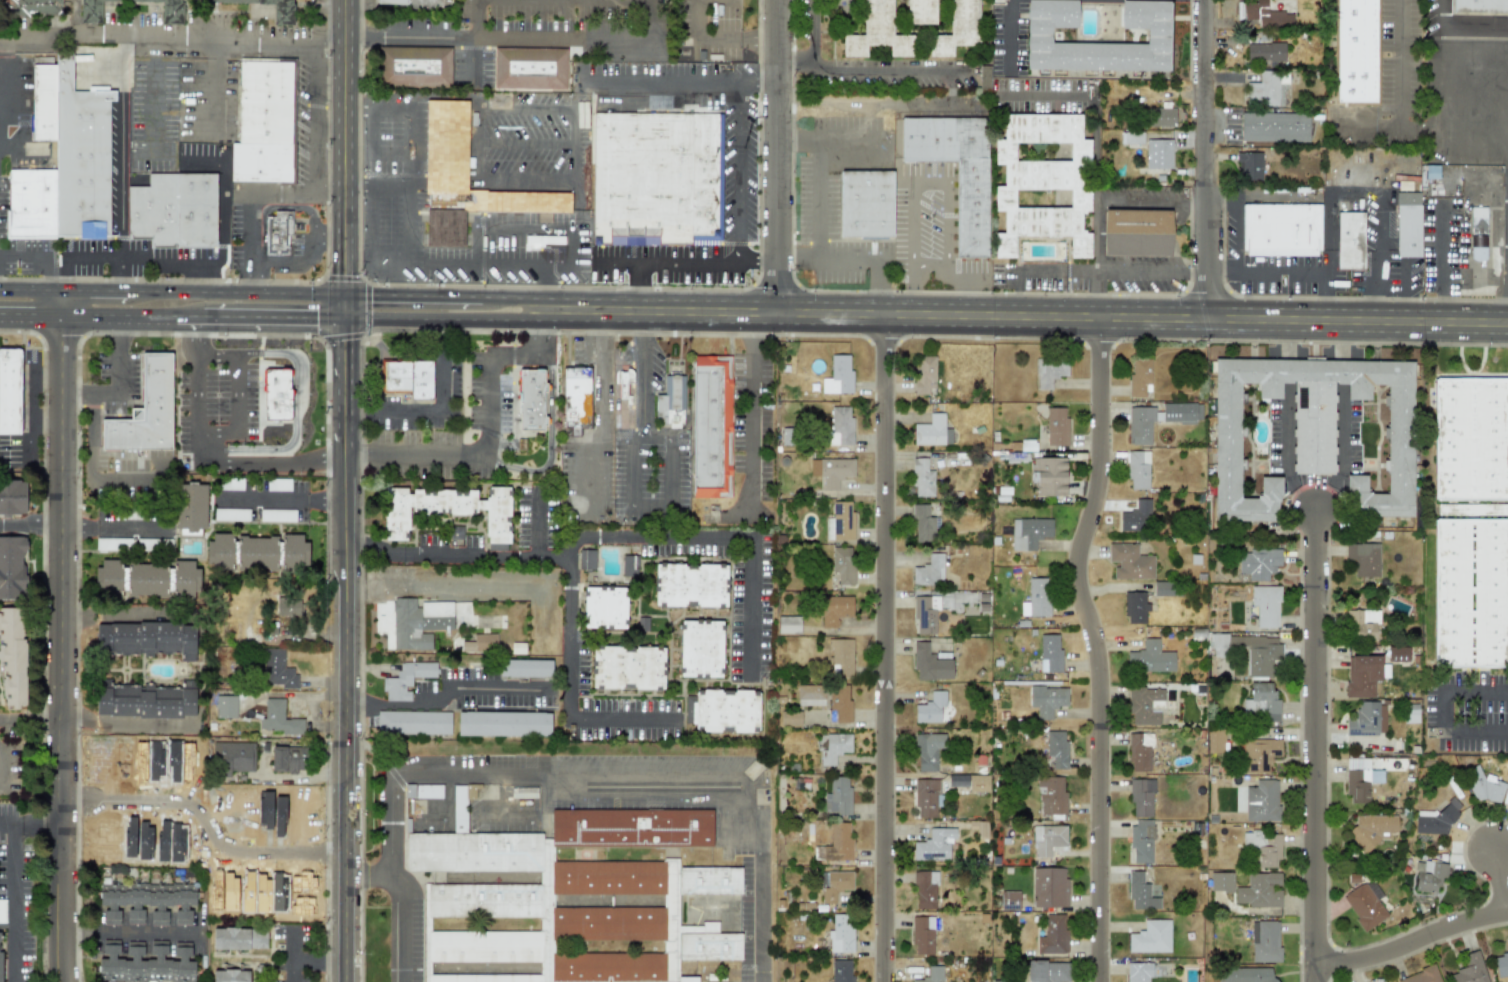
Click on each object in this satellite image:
building: (392, 1)
building: (1480, 6)
building: (35, 7)
building: (920, 11)
building: (171, 12)
building: (282, 13)
building: (1264, 14)
road: (477, 19)
building: (957, 28)
building: (877, 32)
road: (814, 33)
road: (1011, 33)
building: (1037, 35)
road: (463, 37)
road: (717, 39)
road: (636, 40)
road: (236, 43)
building: (1356, 51)
building: (1265, 52)
road: (1445, 58)
road: (1400, 61)
building: (414, 65)
road: (873, 67)
building: (529, 68)
road: (758, 75)
road: (662, 76)
building: (983, 77)
road: (218, 89)
building: (1266, 89)
road: (1048, 96)
road: (877, 101)
building: (1161, 116)
building: (265, 121)
road: (158, 125)
building: (1274, 127)
road: (853, 137)
building: (1131, 137)
road: (408, 147)
road: (1097, 150)
building: (1158, 153)
road: (778, 156)
road: (342, 159)
road: (1209, 159)
building: (64, 161)
building: (1248, 165)
road: (1352, 166)
road: (739, 168)
building: (1430, 171)
road: (938, 172)
road: (819, 178)
building: (466, 179)
building: (657, 179)
building: (1042, 181)
road: (376, 182)
road: (295, 193)
road: (123, 196)
building: (866, 203)
road: (272, 206)
building: (971, 209)
building: (174, 211)
road: (1237, 223)
building: (1407, 224)
road: (246, 228)
road: (523, 229)
building: (1281, 229)
building: (278, 231)
building: (1137, 232)
building: (1477, 233)
building: (1348, 235)
road: (1099, 237)
building: (544, 239)
road: (1445, 239)
road: (41, 258)
road: (480, 258)
road: (667, 261)
road: (758, 261)
road: (136, 262)
road: (854, 262)
road: (303, 264)
road: (1057, 270)
road: (1285, 272)
road: (246, 279)
road: (642, 286)
road: (31, 291)
road: (305, 294)
traffic signals: (342, 294)
road: (62, 304)
road: (367, 308)
road: (31, 316)
road: (1026, 316)
road: (117, 317)
road: (187, 318)
road: (271, 318)
traffic signals: (342, 318)
road: (444, 320)
road: (200, 335)
road: (1286, 336)
road: (1344, 337)
road: (216, 353)
road: (1285, 369)
road: (1343, 371)
building: (1050, 372)
building: (924, 374)
building: (838, 375)
building: (409, 377)
building: (1139, 377)
road: (117, 383)
building: (625, 383)
building: (9, 391)
building: (276, 394)
road: (199, 398)
building: (577, 399)
building: (531, 400)
building: (672, 400)
road: (294, 405)
road: (601, 407)
building: (145, 411)
road: (754, 411)
road: (436, 412)
building: (1159, 419)
building: (713, 426)
building: (840, 426)
building: (1056, 426)
road: (488, 430)
building: (932, 431)
building: (1313, 431)
road: (549, 439)
building: (1470, 439)
building: (1027, 445)
road: (214, 446)
road: (1285, 452)
road: (1341, 452)
road: (321, 458)
road: (90, 466)
road: (633, 470)
building: (1138, 470)
building: (834, 472)
building: (1049, 475)
building: (922, 478)
building: (231, 484)
building: (278, 485)
building: (12, 497)
road: (278, 499)
building: (191, 509)
building: (1471, 509)
building: (449, 510)
building: (231, 514)
building: (277, 515)
building: (1136, 517)
building: (840, 521)
road: (30, 522)
road: (536, 523)
building: (923, 524)
road: (114, 529)
building: (1029, 533)
road: (671, 536)
road: (576, 541)
building: (113, 544)
building: (149, 544)
building: (256, 553)
road: (456, 554)
building: (587, 559)
building: (1364, 559)
building: (1129, 562)
building: (1259, 563)
building: (628, 565)
building: (842, 565)
building: (12, 568)
building: (929, 571)
building: (146, 579)
building: (690, 585)
road: (469, 586)
building: (1163, 588)
building: (1470, 593)
building: (1038, 597)
parking lot: (750, 598)
building: (289, 606)
building: (1265, 606)
building: (604, 607)
road: (750, 608)
building: (1135, 608)
building: (934, 609)
road: (113, 610)
building: (835, 610)
building: (418, 623)
building: (1362, 624)
building: (788, 625)
road: (569, 637)
building: (147, 639)
building: (480, 644)
road: (1097, 646)
road: (885, 648)
road: (59, 649)
road: (343, 649)
building: (700, 649)
building: (1250, 651)
building: (1050, 653)
building: (1398, 654)
building: (841, 657)
building: (12, 658)
building: (1150, 658)
building: (930, 664)
building: (627, 667)
building: (525, 668)
building: (277, 669)
building: (1362, 676)
building: (406, 679)
road: (441, 691)
road: (1477, 693)
building: (810, 695)
road: (319, 696)
building: (1047, 700)
building: (147, 701)
building: (839, 703)
building: (1261, 703)
building: (1145, 705)
building: (225, 706)
building: (930, 708)
building: (722, 710)
building: (1411, 713)
road: (623, 718)
building: (790, 718)
building: (279, 719)
building: (1367, 720)
road: (29, 722)
building: (413, 722)
building: (503, 724)
road: (125, 726)
road: (1482, 738)
building: (1215, 740)
road: (1315, 745)
building: (833, 747)
building: (928, 751)
building: (1056, 751)
building: (1140, 752)
building: (1259, 754)
building: (233, 757)
building: (288, 759)
road: (296, 776)
road: (679, 777)
building: (1357, 780)
building: (971, 782)
road: (0, 784)
building: (1484, 787)
building: (423, 791)
building: (523, 792)
building: (1051, 794)
building: (838, 796)
building: (927, 797)
building: (1141, 798)
building: (1240, 799)
building: (1262, 801)
road: (204, 820)
building: (1432, 822)
road: (35, 824)
building: (1373, 830)
building: (1048, 839)
building: (1141, 841)
building: (840, 843)
building: (934, 845)
building: (1264, 847)
road: (394, 848)
building: (1428, 876)
road: (1500, 879)
building: (1221, 882)
building: (835, 884)
building: (1049, 887)
building: (925, 890)
building: (1259, 891)
building: (1141, 893)
road: (14, 897)
building: (570, 897)
building: (1010, 900)
building: (147, 902)
building: (1365, 904)
building: (2, 911)
road: (394, 928)
road: (125, 929)
building: (841, 934)
building: (1053, 935)
building: (922, 936)
building: (1151, 937)
building: (239, 938)
building: (1265, 941)
road: (1413, 942)
road: (302, 961)
building: (146, 963)
building: (1501, 963)
building: (1, 966)
building: (1470, 969)
road: (292, 971)
building: (841, 971)
building: (1047, 971)
building: (1138, 972)
building: (1249, 974)
building: (931, 975)
building: (230, 976)
building: (1421, 976)
building: (1009, 981)

